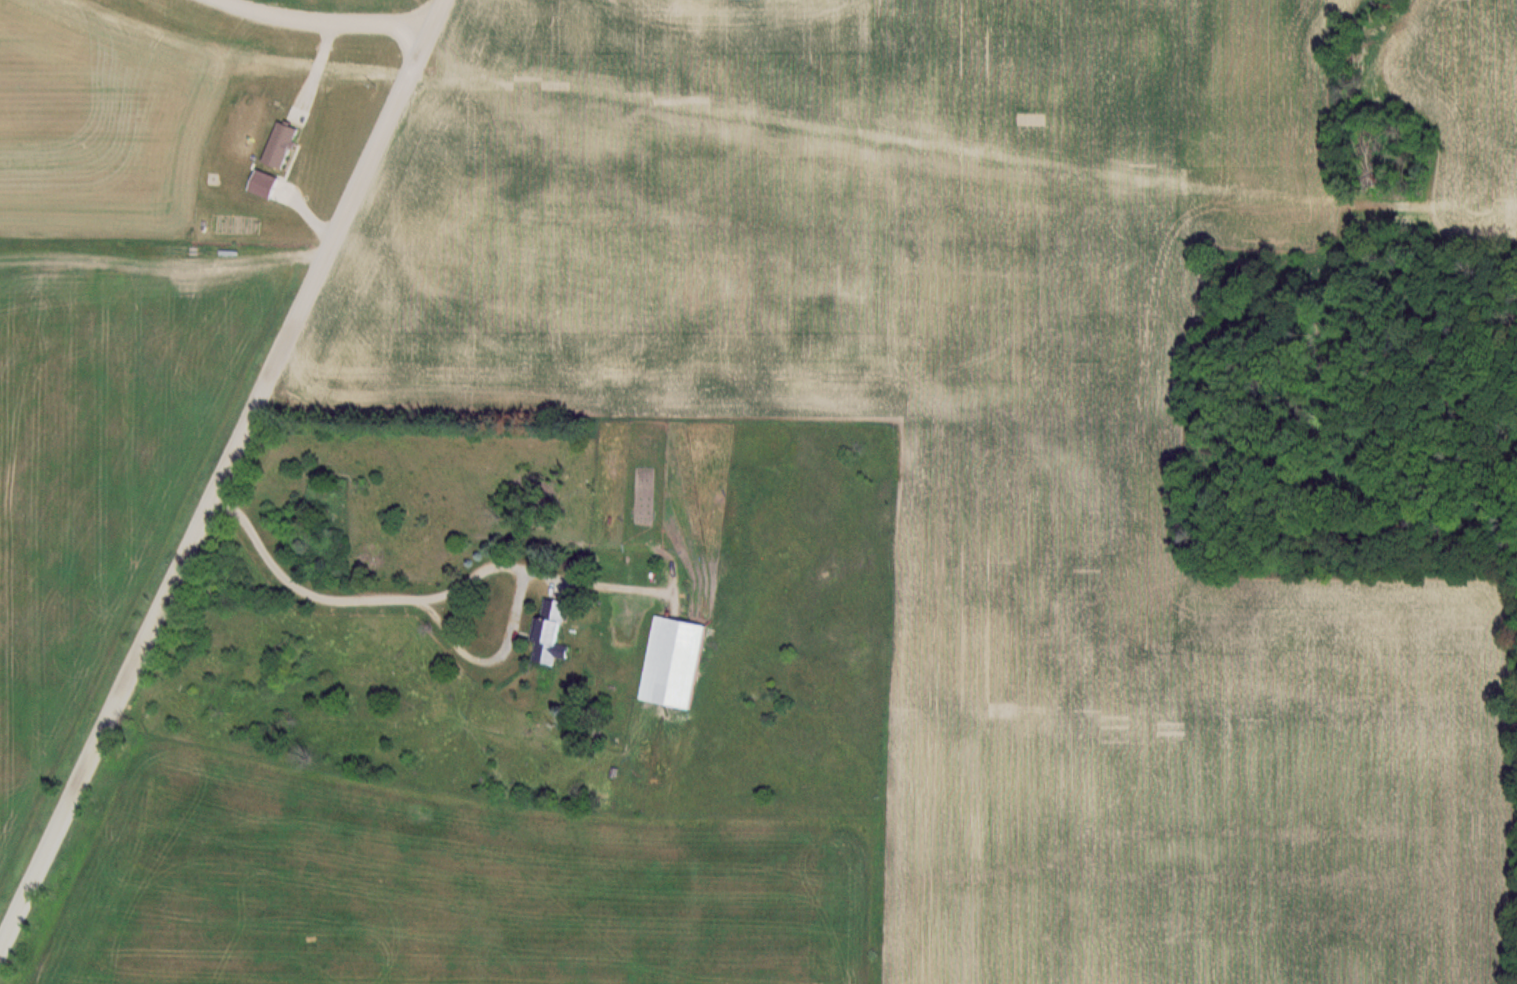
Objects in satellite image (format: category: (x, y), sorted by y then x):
road: (332, 15)
road: (311, 66)
road: (221, 472)
road: (376, 597)
building: (554, 633)
building: (674, 662)

